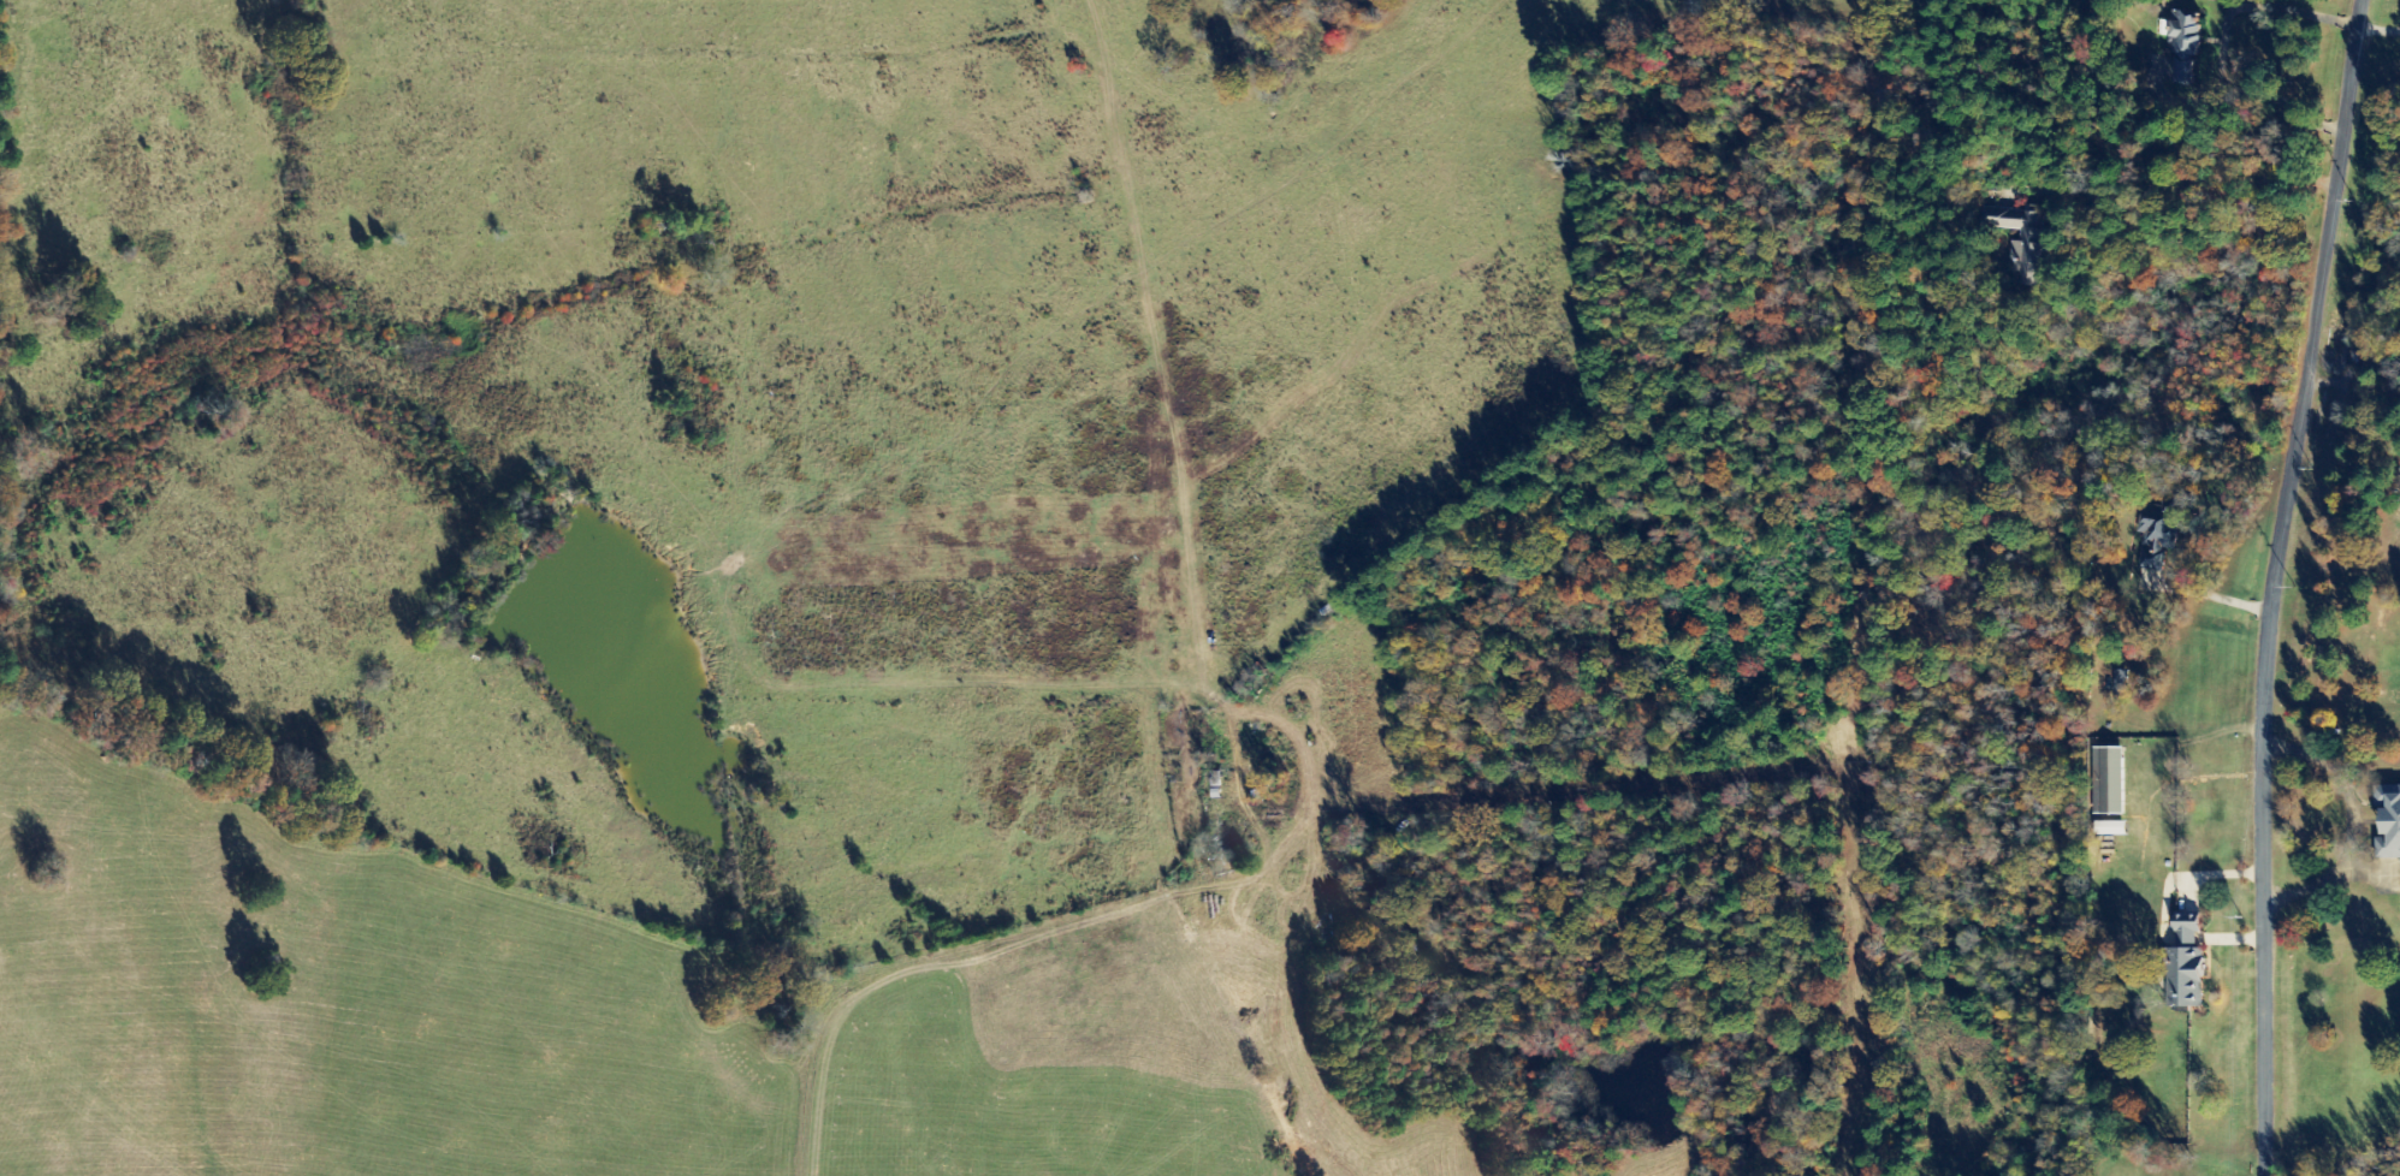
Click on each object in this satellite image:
building: (2186, 44)
building: (2022, 240)
building: (2156, 535)
road: (2278, 584)
building: (2112, 782)
building: (2390, 824)
building: (2187, 966)
airport: (525, 1018)

